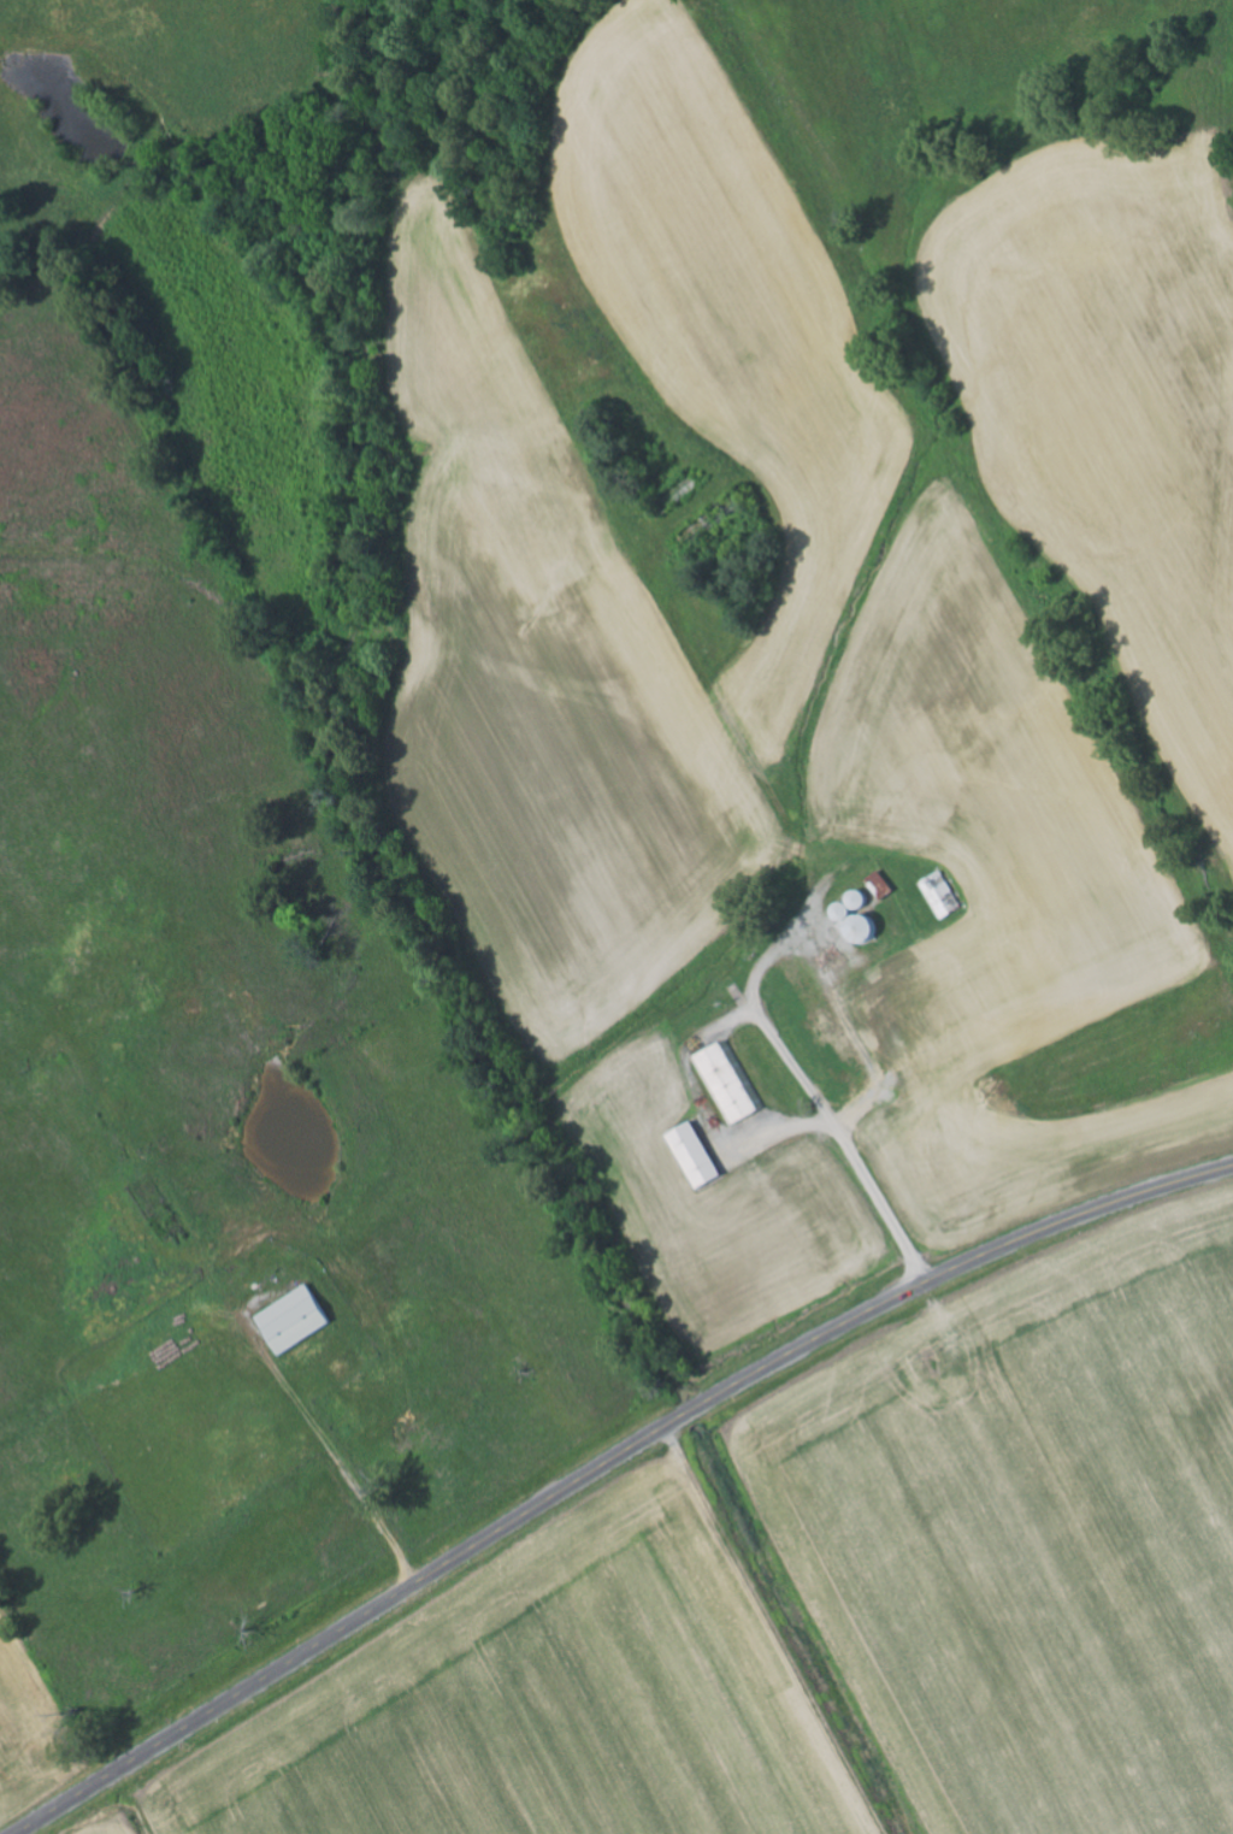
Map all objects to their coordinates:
road: (984, 480)
building: (883, 884)
building: (943, 895)
building: (728, 1084)
building: (698, 1155)
building: (297, 1320)
road: (608, 1468)

